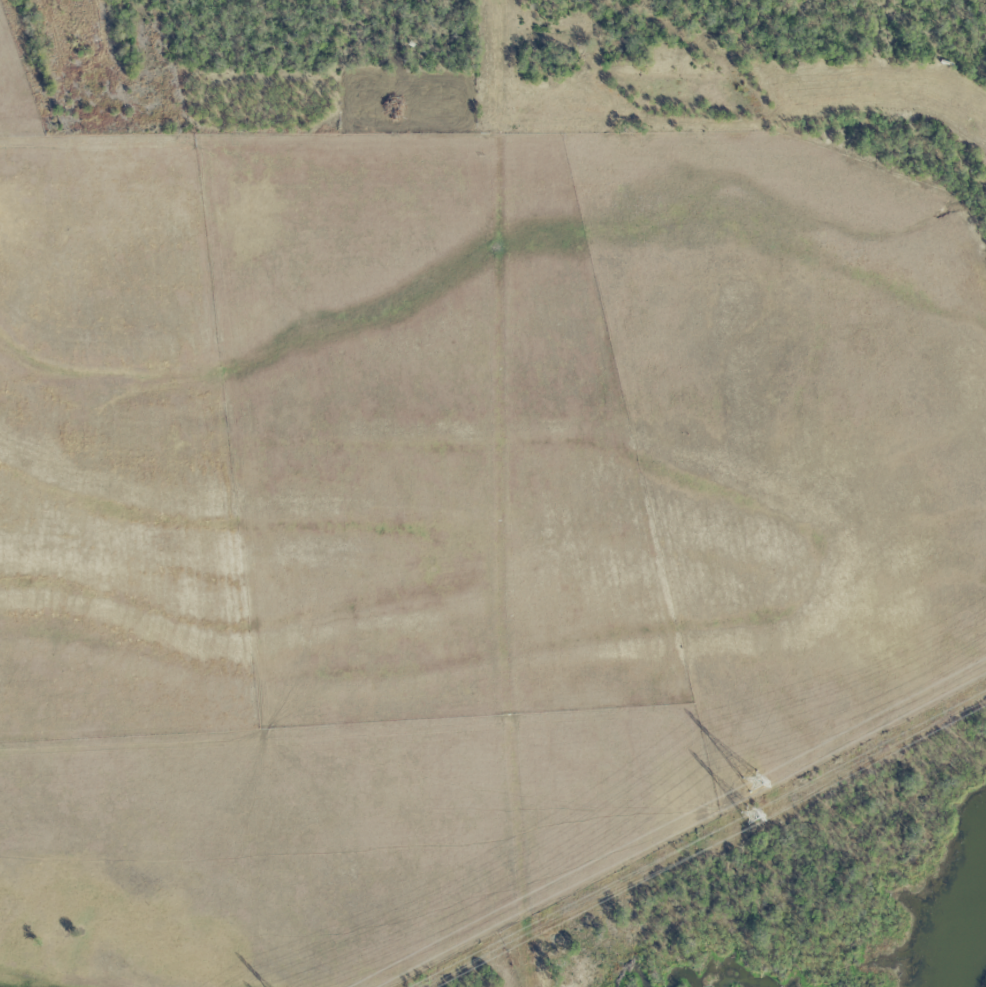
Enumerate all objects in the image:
power tower: (756, 785)
power tower: (757, 815)

